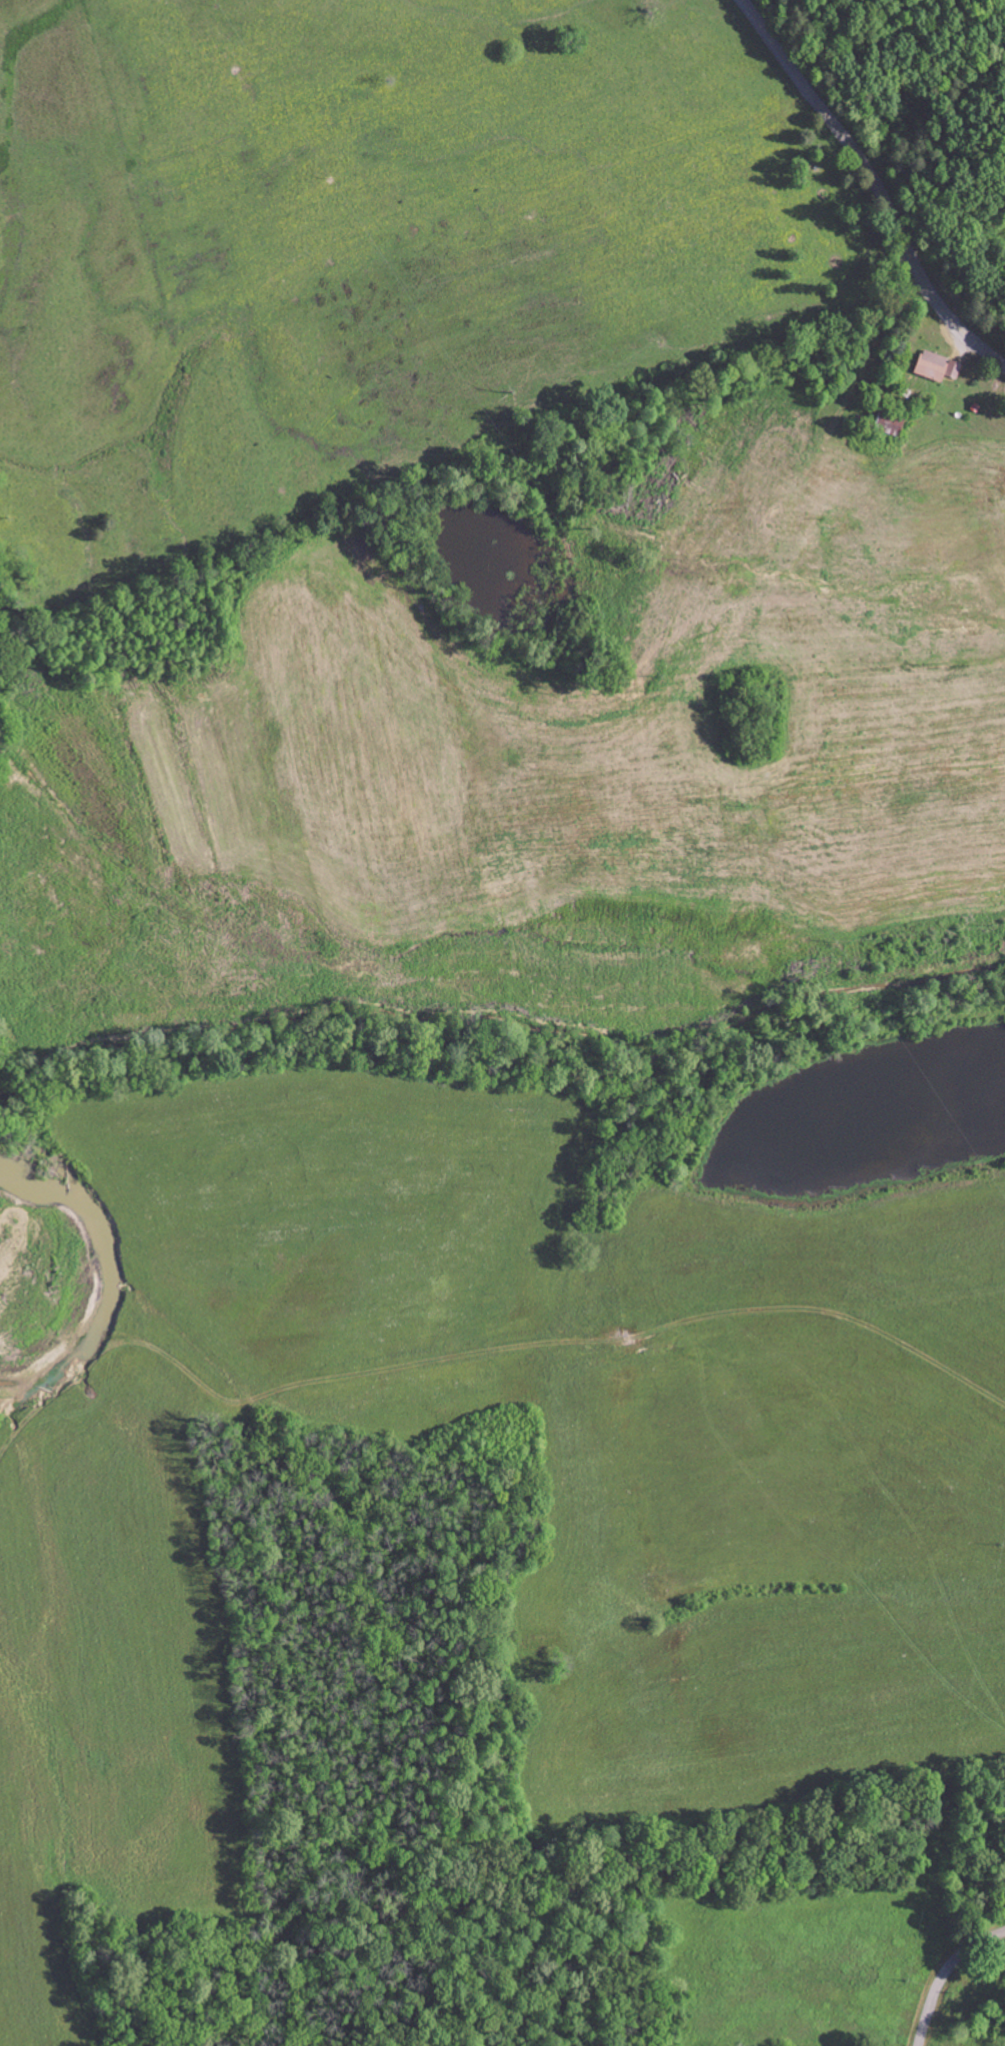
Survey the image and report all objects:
road: (874, 184)
building: (934, 366)
building: (893, 424)
road: (944, 1974)

